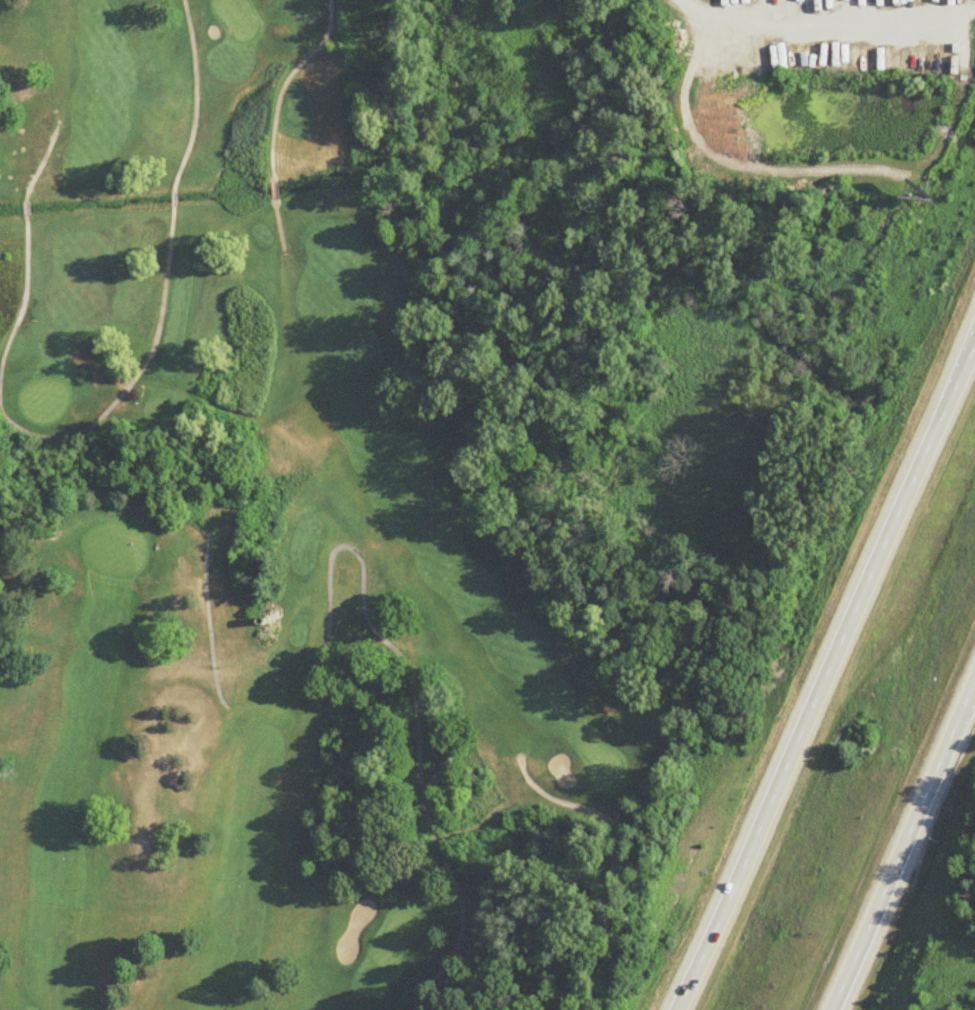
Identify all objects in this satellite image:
road: (828, 22)
park: (300, 551)
road: (826, 677)
road: (901, 848)

